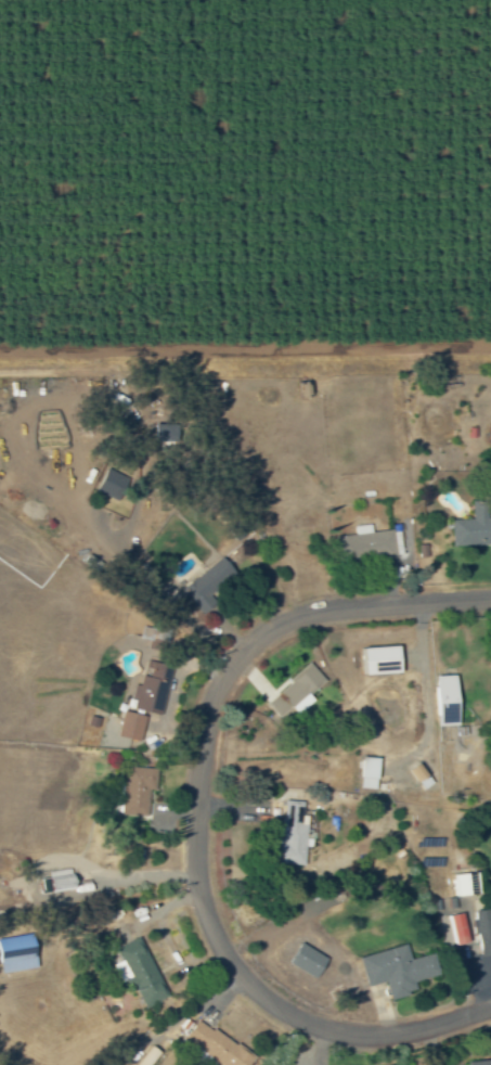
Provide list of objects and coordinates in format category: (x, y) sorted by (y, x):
crop: (242, 181)
building: (158, 432)
building: (108, 484)
building: (470, 529)
building: (367, 543)
building: (208, 579)
road: (150, 580)
building: (376, 660)
building: (293, 691)
building: (441, 701)
building: (143, 702)
building: (366, 772)
building: (417, 775)
building: (135, 790)
road: (191, 813)
building: (292, 834)
building: (57, 881)
building: (464, 884)
building: (457, 928)
building: (482, 931)
building: (15, 959)
building: (305, 960)
building: (395, 970)
building: (140, 972)
building: (210, 1043)
building: (481, 1062)

